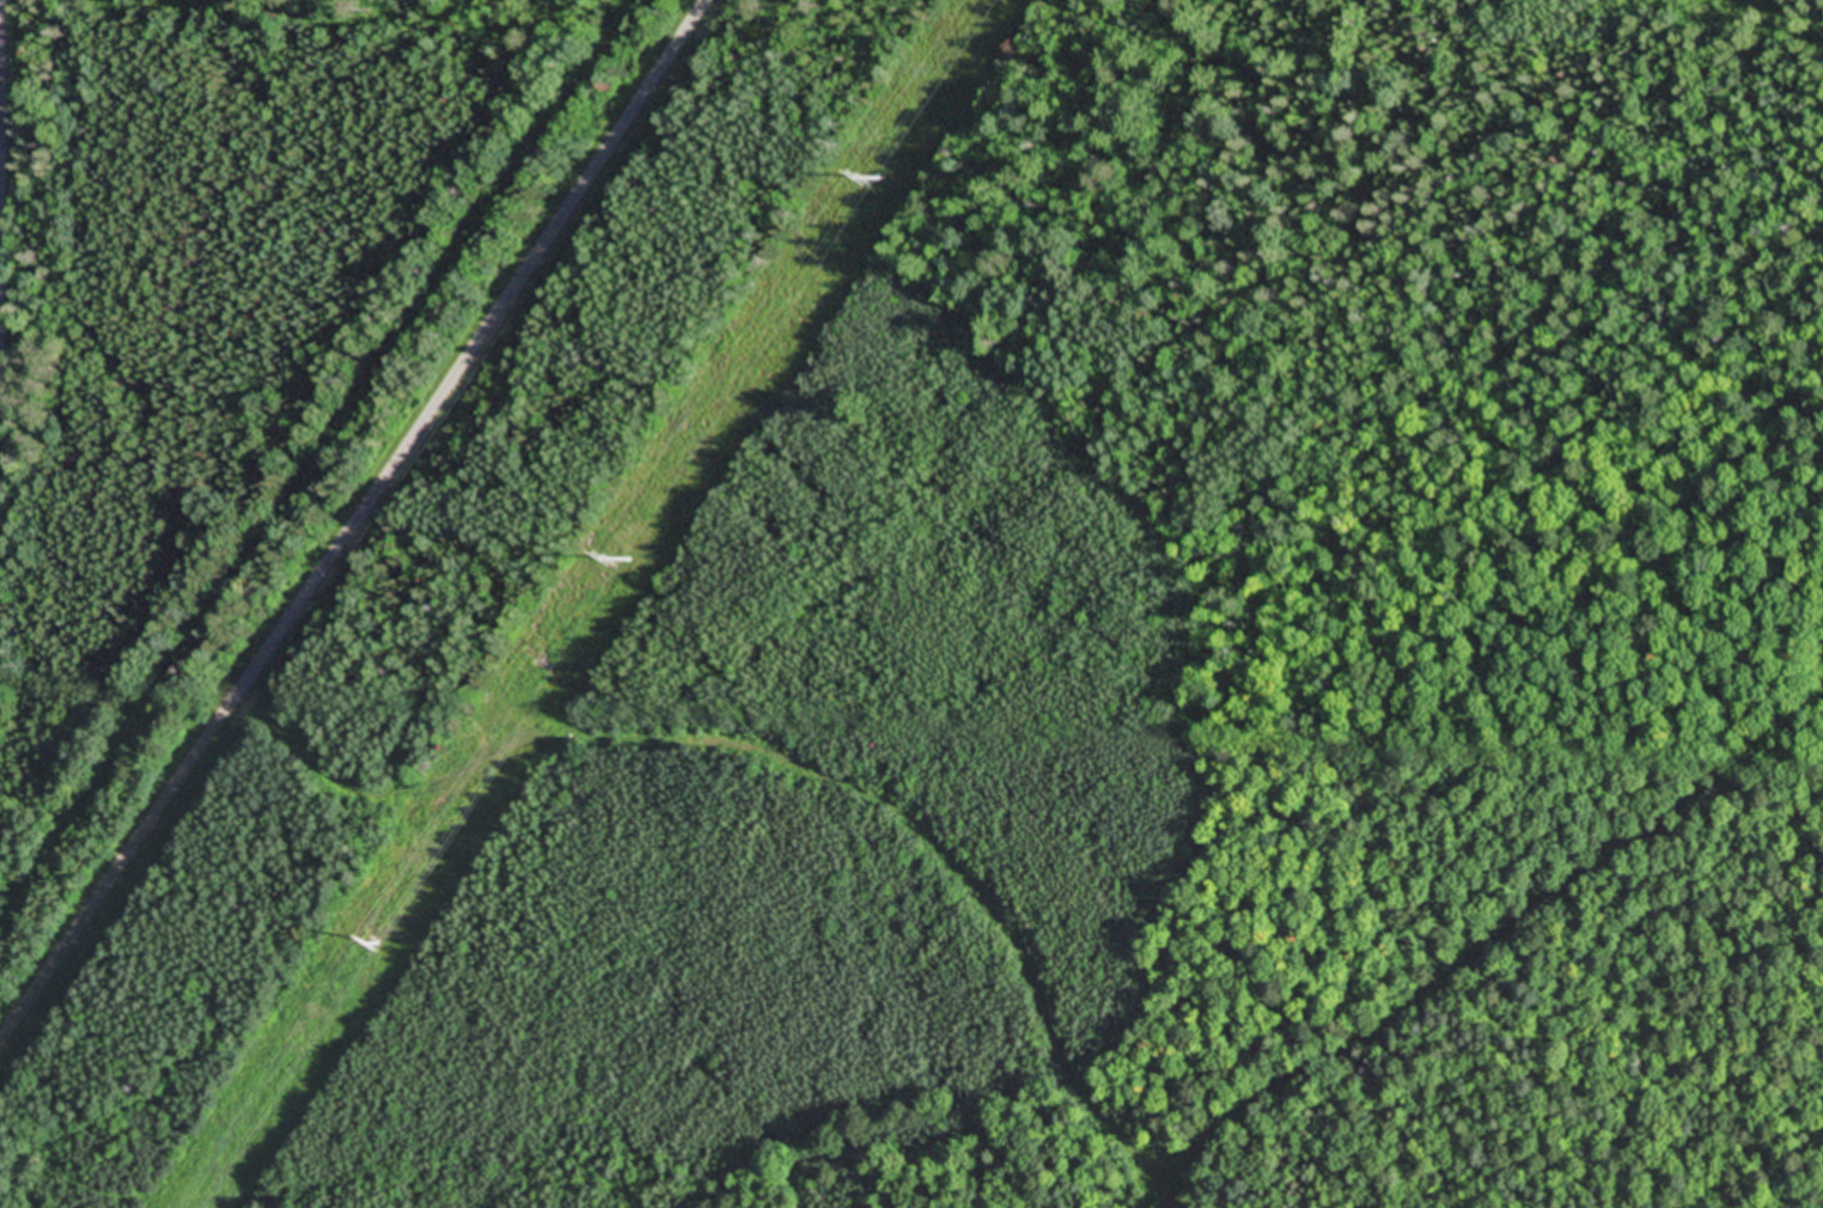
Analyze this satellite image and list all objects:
power tower: (884, 178)
road: (352, 523)
power tower: (630, 561)
road: (776, 755)
road: (1476, 935)
power tower: (378, 944)

